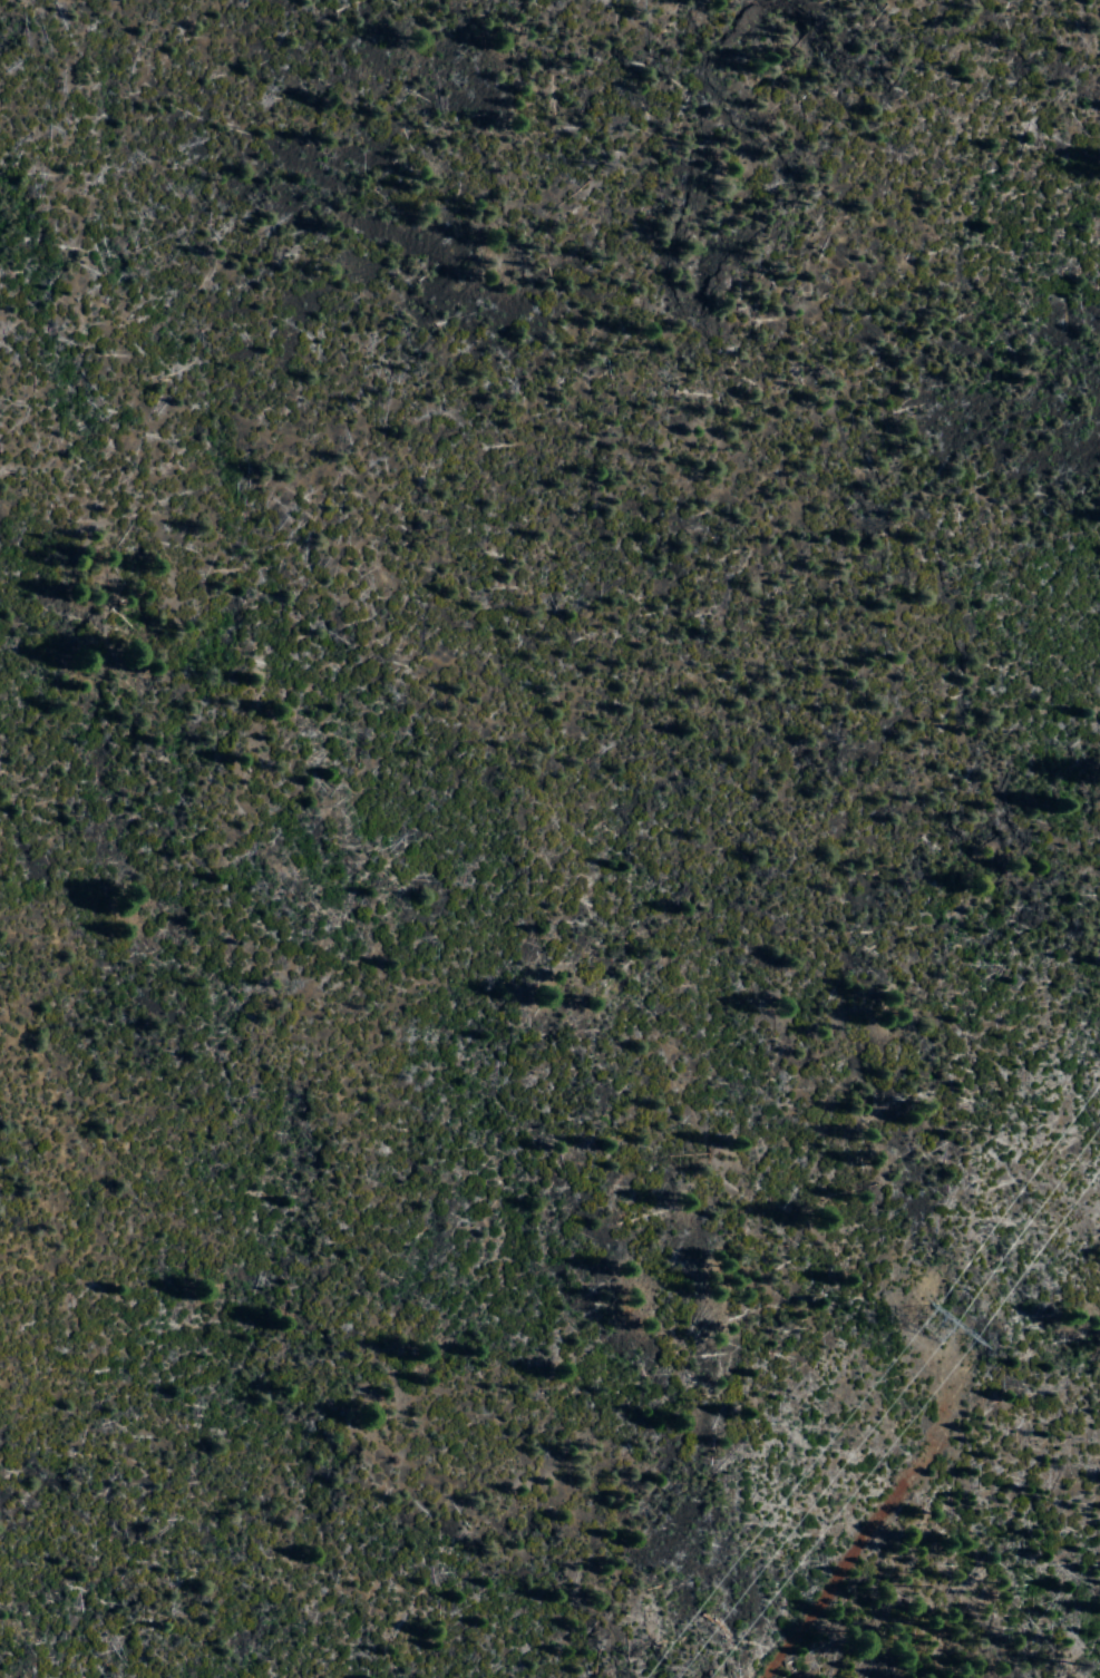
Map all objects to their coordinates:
power tower: (955, 1305)

